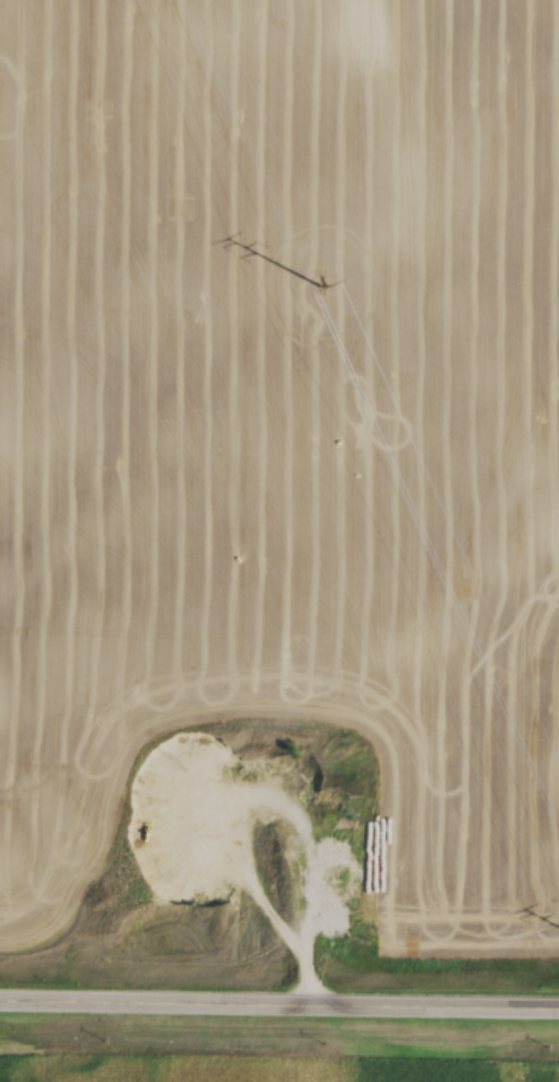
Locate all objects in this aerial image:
power tower: (322, 291)
road: (279, 1004)

